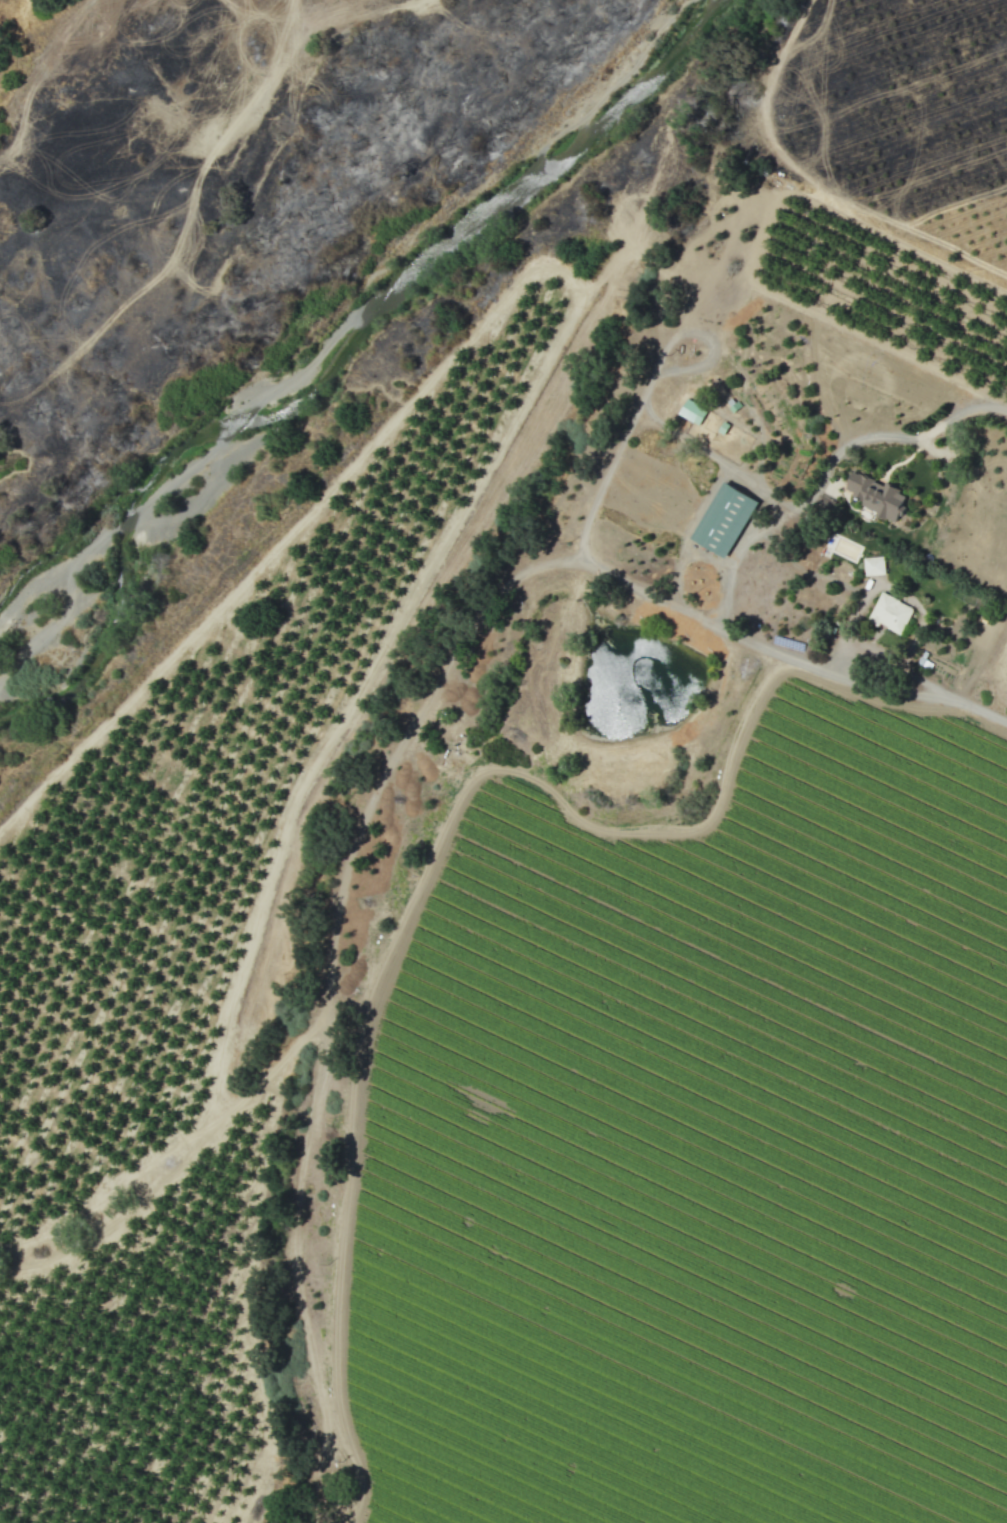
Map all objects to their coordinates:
river: (364, 328)
building: (692, 412)
road: (709, 453)
building: (877, 496)
road: (591, 518)
building: (724, 520)
road: (688, 532)
road: (749, 535)
road: (706, 558)
building: (874, 566)
building: (890, 614)
road: (964, 702)

